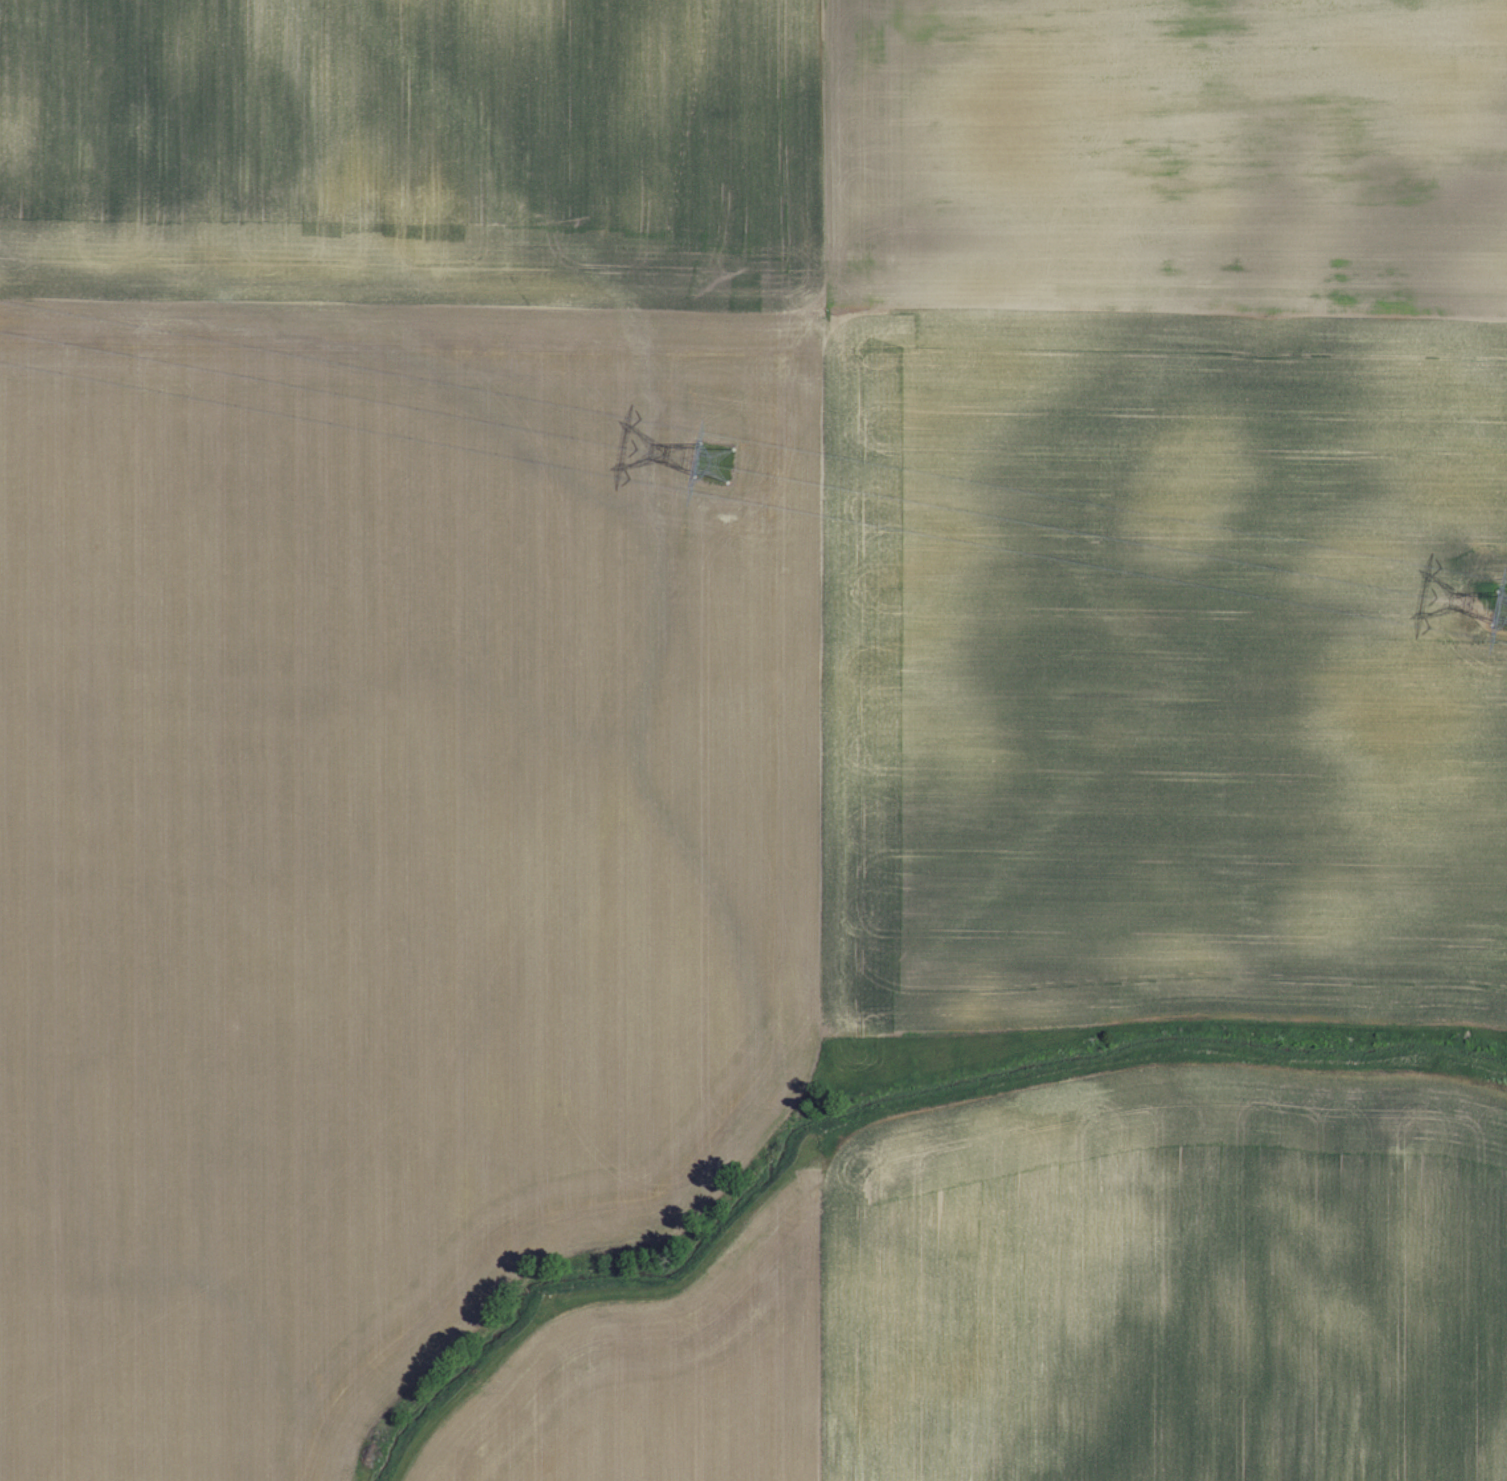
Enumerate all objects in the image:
power tower: (713, 469)

